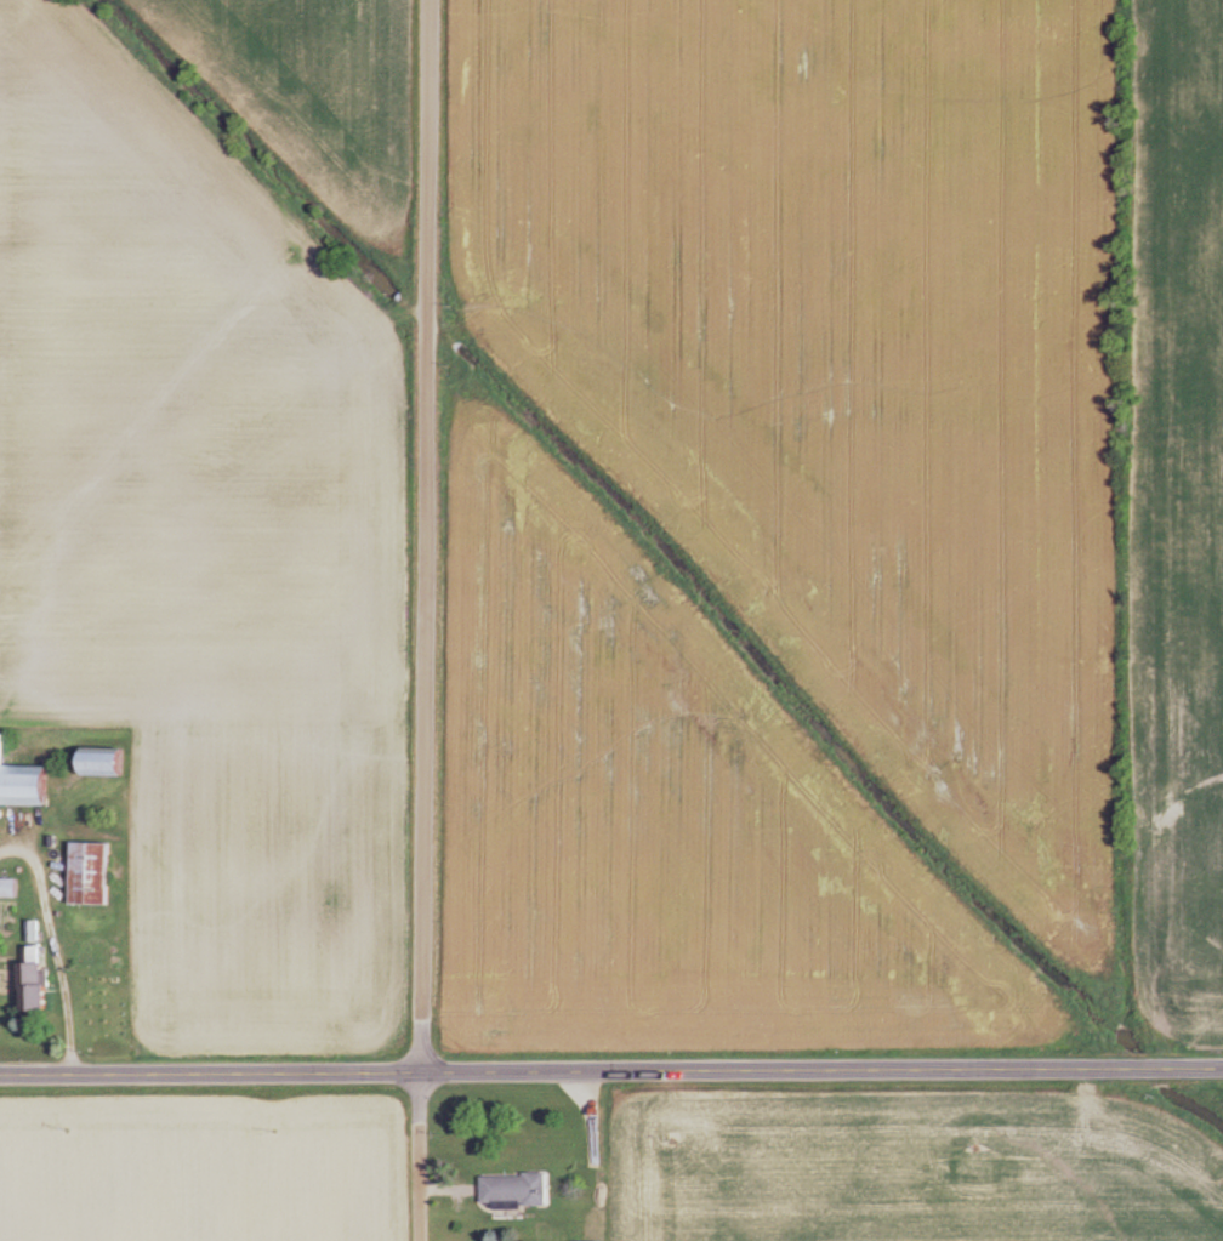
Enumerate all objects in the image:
road: (423, 620)
building: (113, 763)
building: (28, 781)
building: (97, 872)
building: (11, 887)
road: (55, 946)
building: (40, 980)
road: (611, 1072)
building: (517, 1192)

